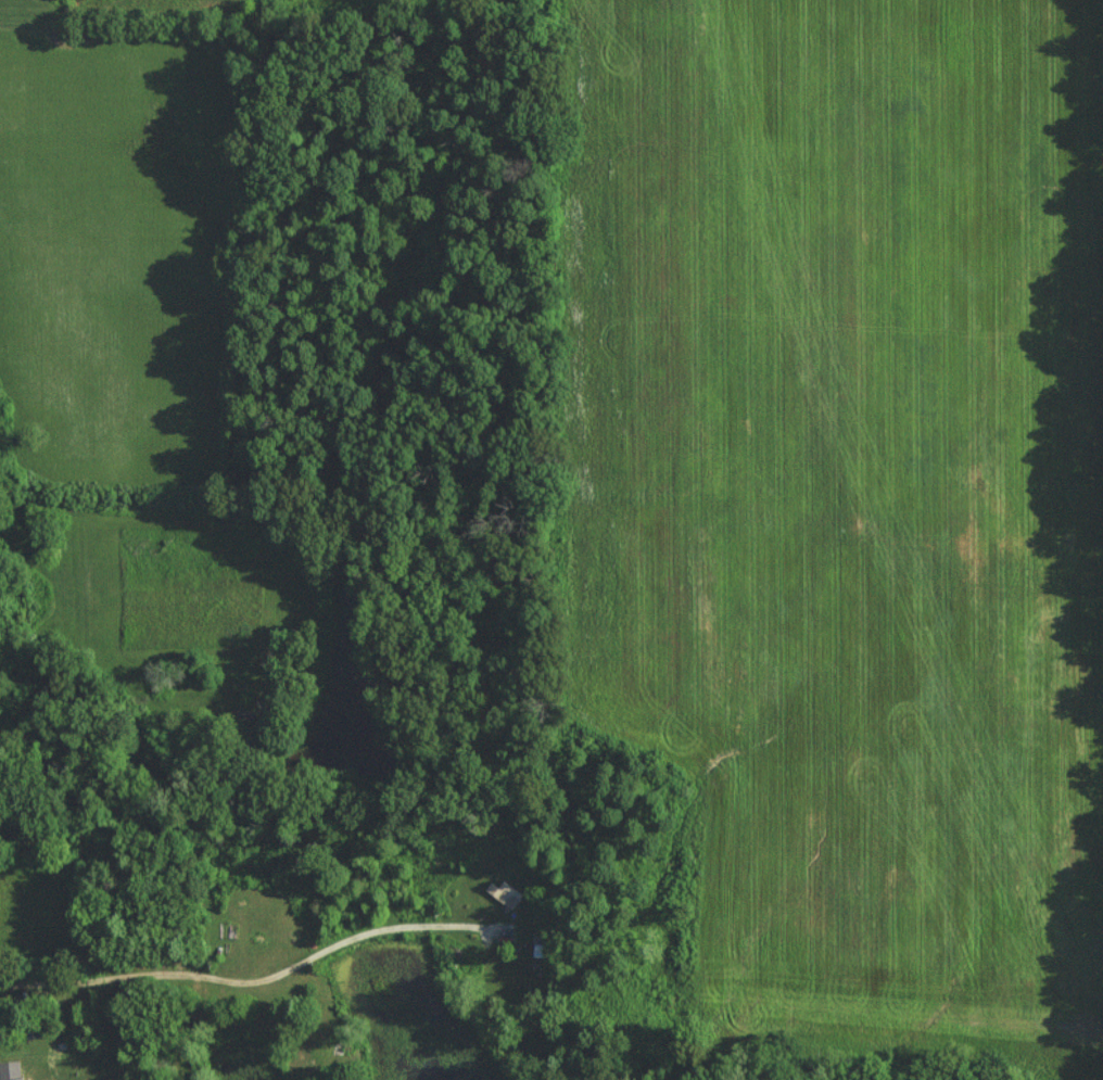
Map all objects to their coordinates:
park: (22, 12)
building: (504, 892)
road: (249, 981)
building: (13, 1070)

